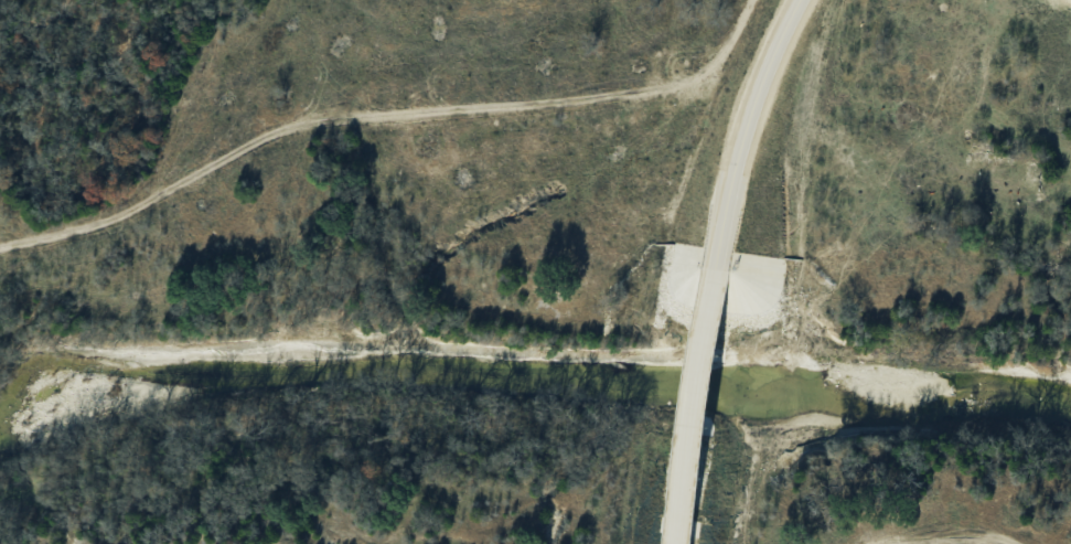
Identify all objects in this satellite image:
road: (382, 113)
road: (745, 135)
road: (705, 333)
river: (341, 369)
river: (883, 397)
road: (686, 467)

